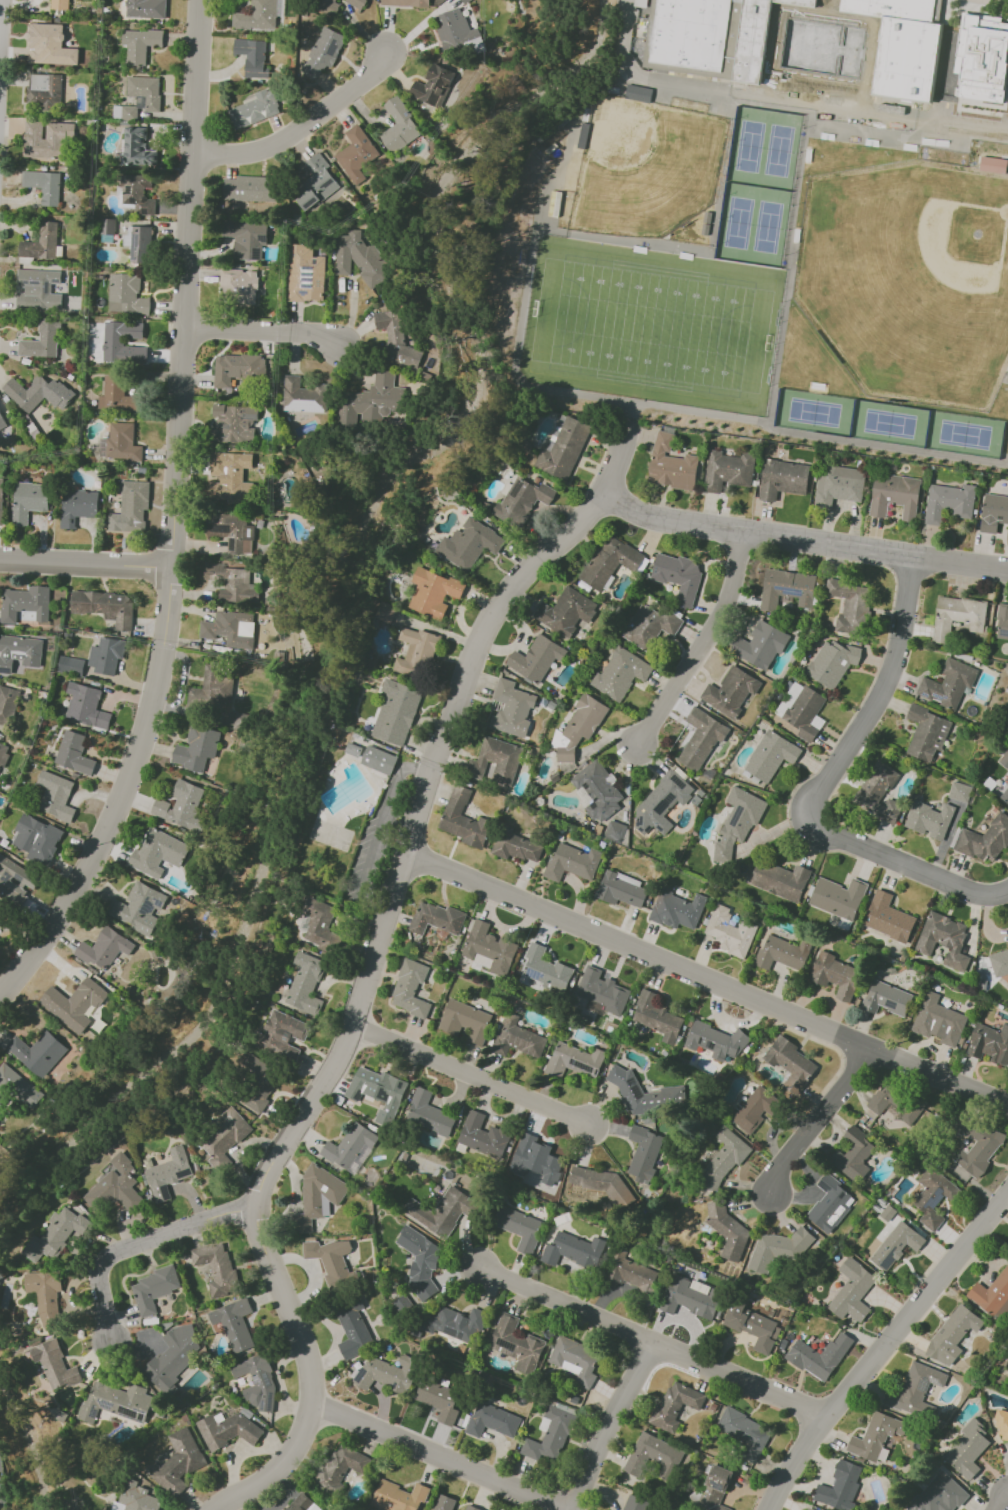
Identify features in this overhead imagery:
building: (464, 1)
building: (802, 1)
building: (333, 2)
building: (360, 2)
building: (408, 2)
building: (640, 3)
building: (60, 4)
building: (147, 8)
building: (892, 8)
building: (256, 17)
road: (1, 19)
building: (456, 28)
building: (690, 33)
building: (752, 41)
building: (140, 44)
building: (52, 46)
building: (249, 51)
building: (325, 51)
building: (907, 60)
building: (981, 60)
building: (433, 85)
building: (45, 88)
building: (144, 93)
building: (255, 110)
park: (768, 111)
park: (824, 118)
building: (399, 125)
park: (881, 126)
road: (303, 127)
building: (50, 140)
park: (748, 145)
building: (140, 147)
park: (778, 150)
building: (357, 153)
building: (992, 164)
park: (643, 165)
building: (317, 182)
building: (45, 186)
building: (246, 188)
rooftop solar panel: (129, 191)
building: (135, 194)
rooftop solar panel: (131, 199)
building: (553, 203)
rooftop solar panel: (143, 211)
park: (737, 222)
park: (766, 226)
building: (108, 228)
rooftop solar panel: (231, 233)
rooftop solar panel: (136, 234)
rooftop solar panel: (247, 234)
building: (247, 240)
rooftop solar panel: (132, 242)
building: (42, 243)
building: (144, 245)
building: (363, 258)
rooftop solar panel: (307, 266)
building: (306, 275)
rooftop solar panel: (307, 275)
rooftop solar panel: (306, 279)
park: (910, 279)
rooftop solar panel: (306, 284)
building: (37, 288)
building: (240, 288)
rooftop solar panel: (302, 291)
building: (127, 296)
park: (652, 325)
road: (265, 333)
building: (43, 341)
building: (397, 342)
building: (120, 343)
building: (237, 367)
building: (269, 368)
building: (29, 392)
building: (380, 394)
building: (119, 395)
building: (306, 396)
park: (813, 411)
rooftop solar panel: (247, 416)
building: (3, 421)
building: (236, 422)
park: (888, 423)
rooftop solar panel: (223, 425)
park: (963, 434)
rooftop solar panel: (221, 435)
building: (122, 441)
building: (564, 446)
building: (671, 466)
building: (728, 470)
building: (230, 474)
building: (784, 479)
building: (839, 488)
building: (894, 495)
building: (2, 499)
building: (29, 502)
building: (951, 503)
building: (524, 504)
building: (135, 506)
building: (77, 507)
building: (993, 513)
road: (174, 516)
building: (225, 529)
rooftop solar panel: (248, 531)
building: (249, 537)
road: (805, 539)
building: (472, 546)
road: (86, 562)
building: (609, 562)
building: (679, 577)
building: (230, 581)
building: (788, 591)
building: (433, 592)
rooftop solar panel: (792, 592)
building: (26, 603)
building: (848, 606)
building: (105, 607)
building: (386, 612)
building: (568, 613)
building: (957, 615)
building: (1002, 620)
building: (649, 625)
building: (231, 629)
road: (704, 641)
building: (761, 645)
building: (417, 652)
building: (21, 653)
building: (107, 656)
building: (537, 660)
building: (832, 662)
building: (76, 666)
rooftop solar panel: (542, 667)
building: (620, 673)
building: (218, 682)
building: (948, 683)
building: (731, 691)
rooftop solar panel: (925, 694)
rooftop solar panel: (937, 696)
rooftop solar panel: (945, 698)
building: (9, 706)
building: (85, 706)
building: (513, 709)
building: (396, 712)
building: (806, 712)
building: (581, 725)
building: (925, 732)
building: (702, 737)
building: (198, 748)
building: (353, 749)
building: (74, 754)
building: (770, 755)
building: (4, 756)
building: (1004, 758)
building: (379, 760)
building: (496, 760)
road: (833, 784)
building: (598, 791)
building: (878, 791)
building: (958, 794)
building: (56, 795)
building: (1004, 795)
building: (181, 804)
building: (663, 804)
rooftop solar panel: (663, 804)
rooftop solar panel: (736, 816)
building: (929, 818)
building: (737, 821)
building: (465, 822)
building: (614, 830)
building: (35, 835)
building: (984, 838)
building: (518, 848)
building: (162, 860)
building: (575, 865)
building: (11, 870)
rooftop solar panel: (18, 877)
building: (778, 879)
building: (623, 890)
building: (837, 896)
road: (397, 905)
building: (139, 907)
building: (678, 910)
building: (0, 912)
building: (887, 917)
building: (436, 918)
building: (320, 923)
rooftop solar panel: (304, 924)
building: (731, 931)
building: (943, 939)
building: (488, 948)
building: (103, 949)
building: (782, 952)
building: (999, 962)
building: (545, 968)
rooftop solar panel: (539, 976)
building: (838, 976)
road: (710, 979)
building: (305, 983)
building: (409, 989)
building: (889, 999)
building: (74, 1003)
building: (656, 1016)
building: (464, 1020)
building: (942, 1020)
building: (282, 1034)
building: (517, 1037)
rooftop solar panel: (703, 1040)
building: (715, 1041)
rooftop solar panel: (714, 1044)
building: (990, 1046)
building: (37, 1052)
building: (574, 1060)
building: (790, 1064)
rooftop solar panel: (583, 1065)
road: (475, 1079)
building: (257, 1083)
rooftop solar panel: (400, 1084)
building: (19, 1088)
rooftop solar panel: (634, 1089)
building: (378, 1091)
rooftop solar panel: (383, 1093)
building: (645, 1093)
rooftop solar panel: (358, 1094)
building: (896, 1103)
building: (756, 1108)
building: (429, 1113)
road: (821, 1120)
building: (482, 1134)
building: (222, 1139)
building: (977, 1146)
building: (350, 1147)
building: (643, 1153)
building: (853, 1155)
building: (535, 1159)
building: (723, 1159)
building: (168, 1173)
building: (599, 1183)
building: (115, 1186)
building: (317, 1196)
building: (933, 1196)
building: (830, 1204)
building: (440, 1211)
building: (519, 1227)
building: (727, 1231)
building: (56, 1235)
road: (141, 1243)
building: (896, 1245)
building: (573, 1249)
building: (779, 1249)
building: (420, 1260)
building: (331, 1261)
rooftop solar panel: (887, 1263)
building: (217, 1268)
building: (631, 1272)
building: (153, 1289)
building: (852, 1291)
building: (991, 1292)
building: (45, 1296)
building: (688, 1298)
building: (1002, 1310)
building: (234, 1323)
building: (455, 1323)
building: (753, 1327)
building: (353, 1328)
rooftop solar panel: (941, 1329)
road: (658, 1331)
building: (952, 1334)
rooftop solar panel: (504, 1342)
building: (516, 1343)
road: (880, 1345)
rooftop solar panel: (512, 1347)
building: (819, 1356)
building: (173, 1358)
building: (575, 1360)
building: (54, 1364)
building: (387, 1373)
building: (257, 1381)
rooftop solar panel: (925, 1381)
building: (913, 1388)
building: (439, 1400)
building: (116, 1401)
rooftop solar panel: (103, 1404)
building: (675, 1404)
rooftop solar panel: (140, 1410)
rooftop solar panel: (94, 1412)
rooftop solar panel: (129, 1413)
rooftop solar panel: (142, 1417)
building: (491, 1420)
road: (619, 1421)
building: (1001, 1425)
building: (226, 1429)
building: (744, 1432)
building: (550, 1433)
building: (875, 1436)
building: (967, 1449)
building: (653, 1456)
road: (436, 1457)
building: (179, 1461)
parking lot: (1, 1463)
building: (340, 1466)
road: (277, 1470)
building: (840, 1486)
rooftop solar panel: (718, 1487)
building: (714, 1489)
building: (939, 1494)
building: (397, 1497)
building: (135, 1498)
building: (444, 1502)
building: (302, 1503)
building: (635, 1503)
building: (471, 1507)
building: (808, 1509)
road: (1007, 1509)

